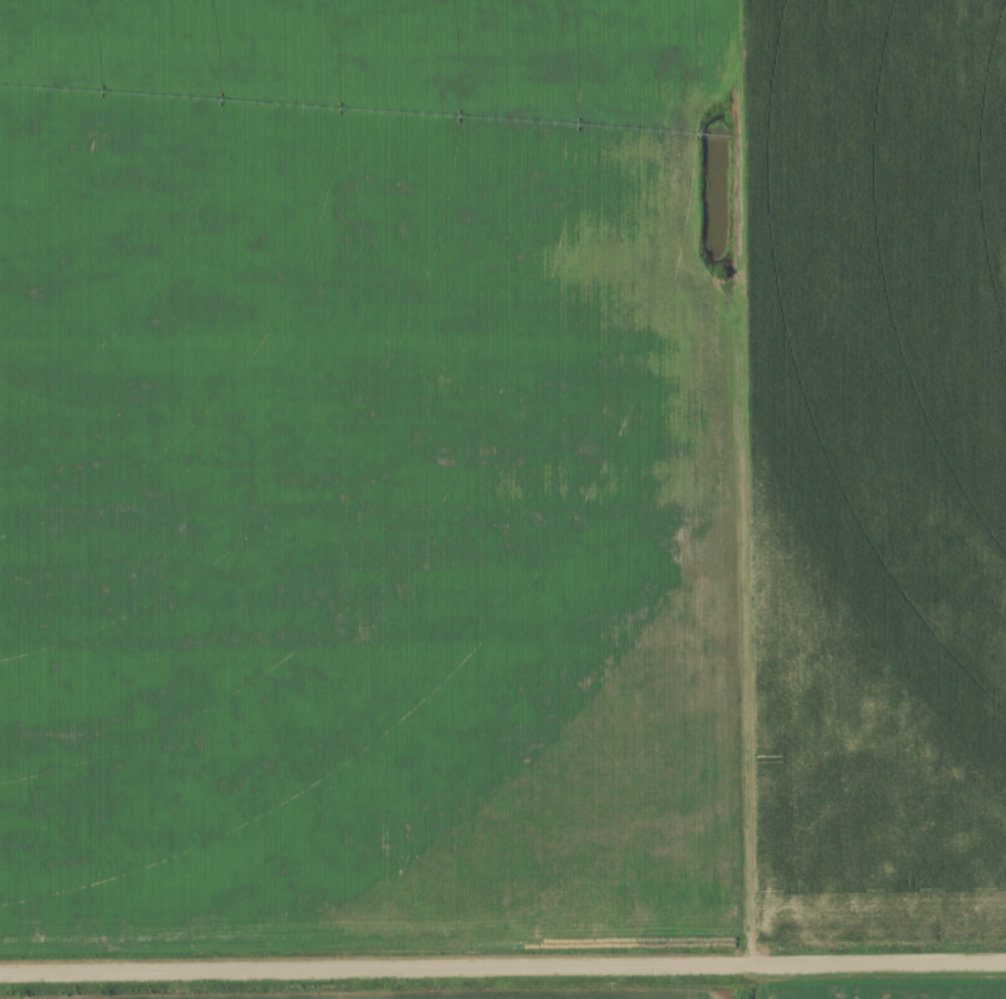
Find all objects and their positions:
road: (503, 971)

